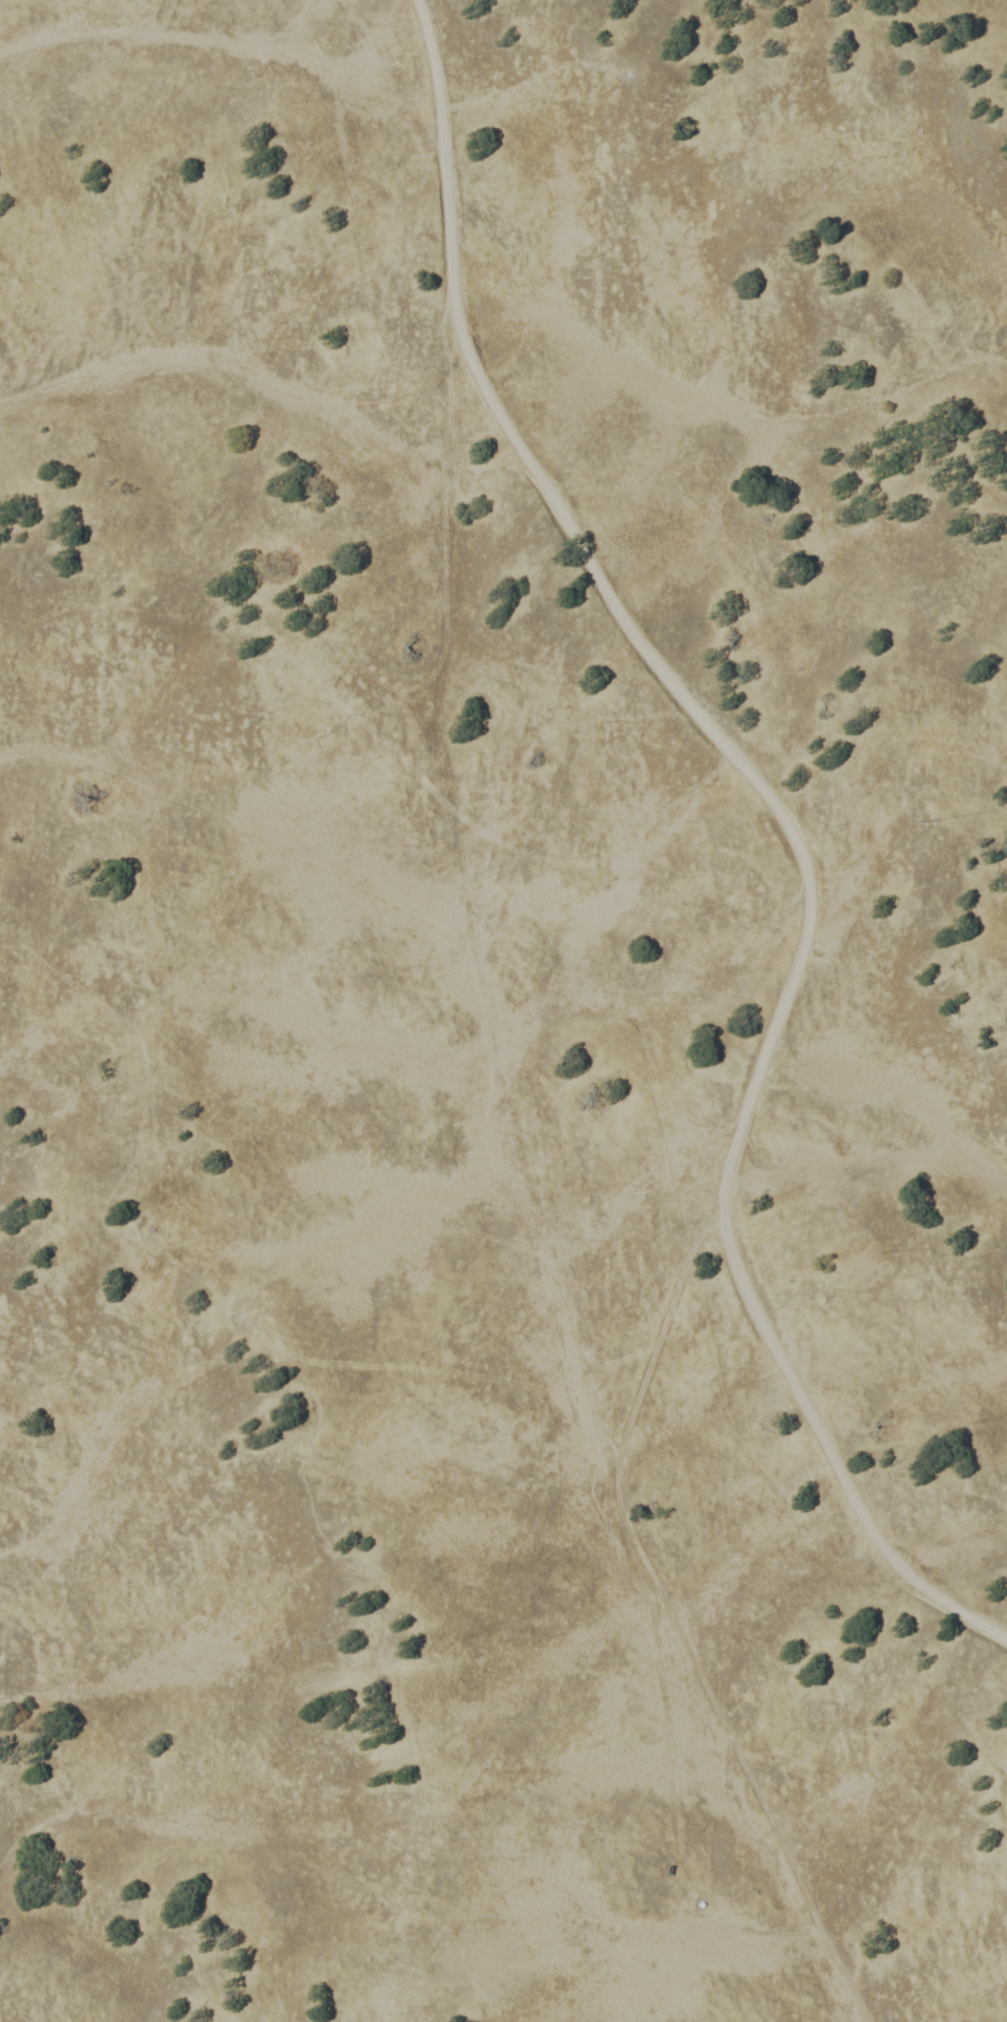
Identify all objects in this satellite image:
road: (783, 827)
road: (673, 1618)

